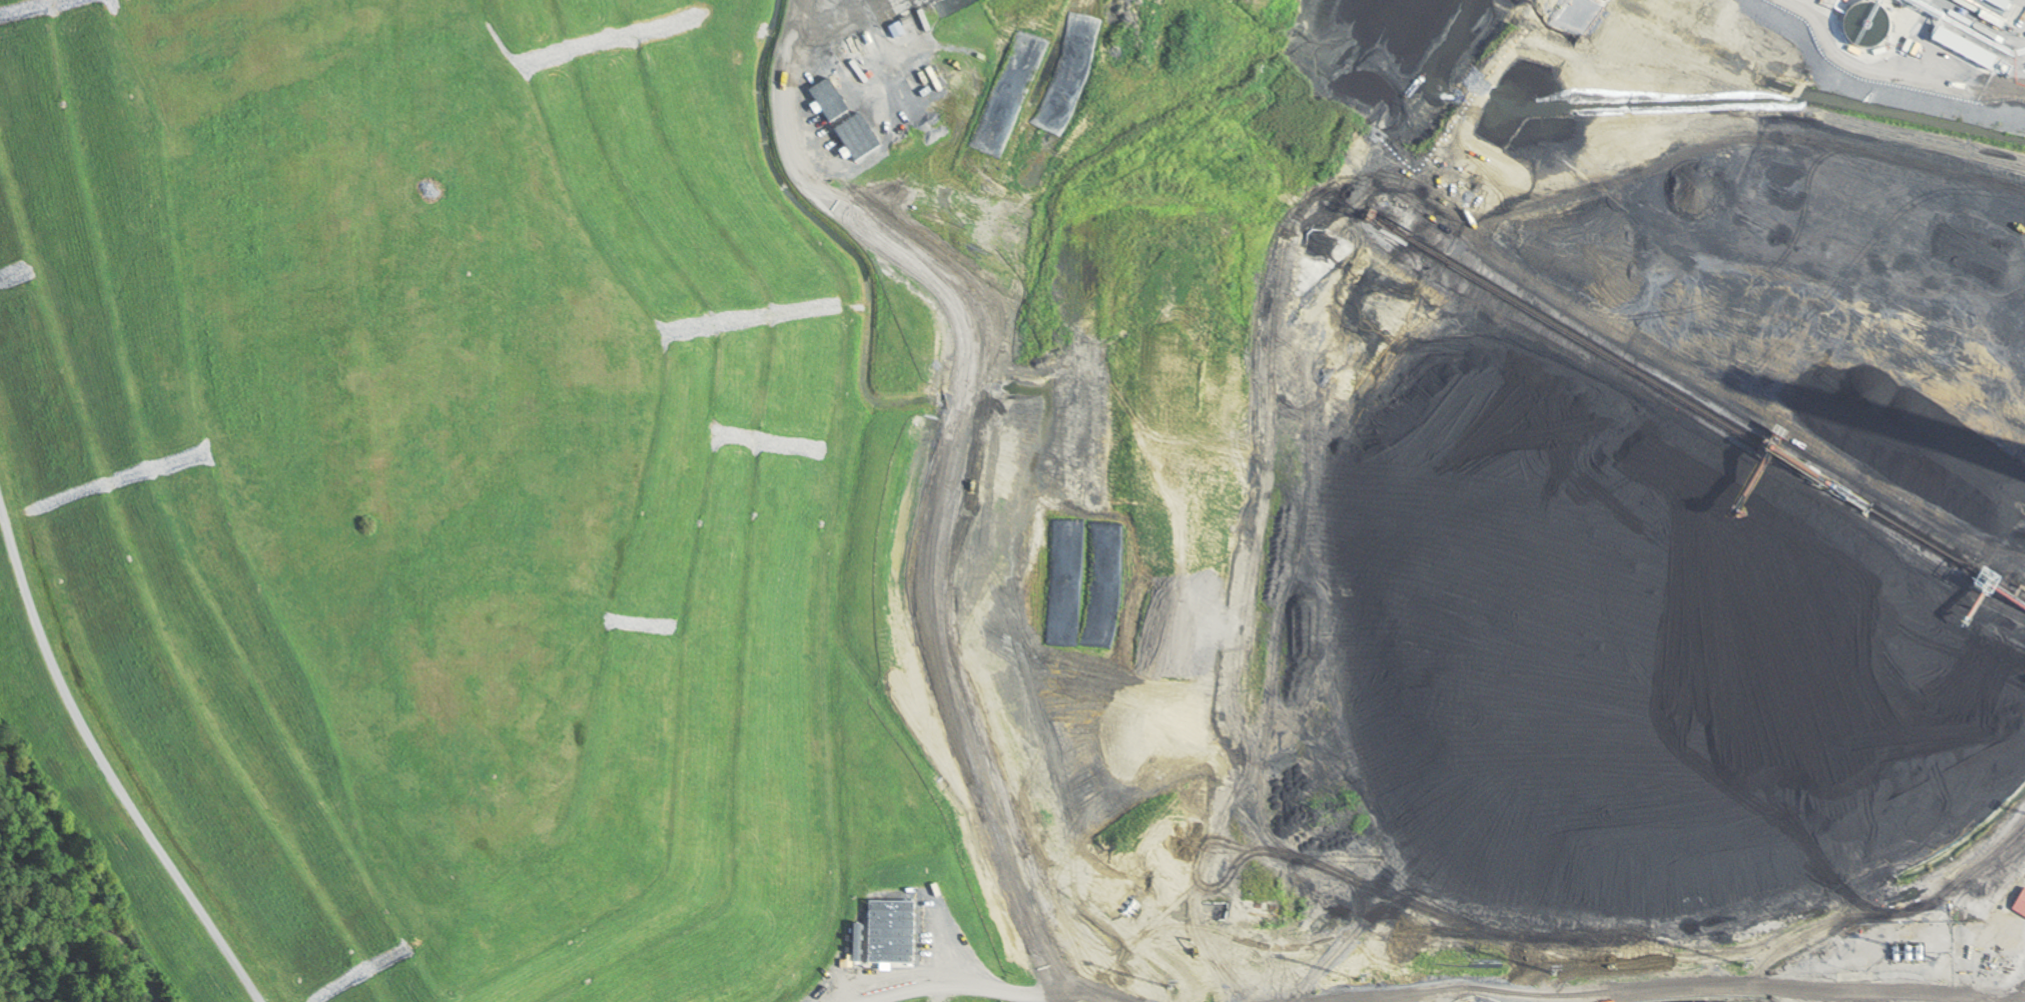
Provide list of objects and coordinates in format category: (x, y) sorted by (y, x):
building: (816, 77)
road: (104, 766)
building: (2020, 904)
road: (1000, 988)
road: (1652, 992)
road: (1995, 996)
road: (1061, 997)
road: (1997, 999)

